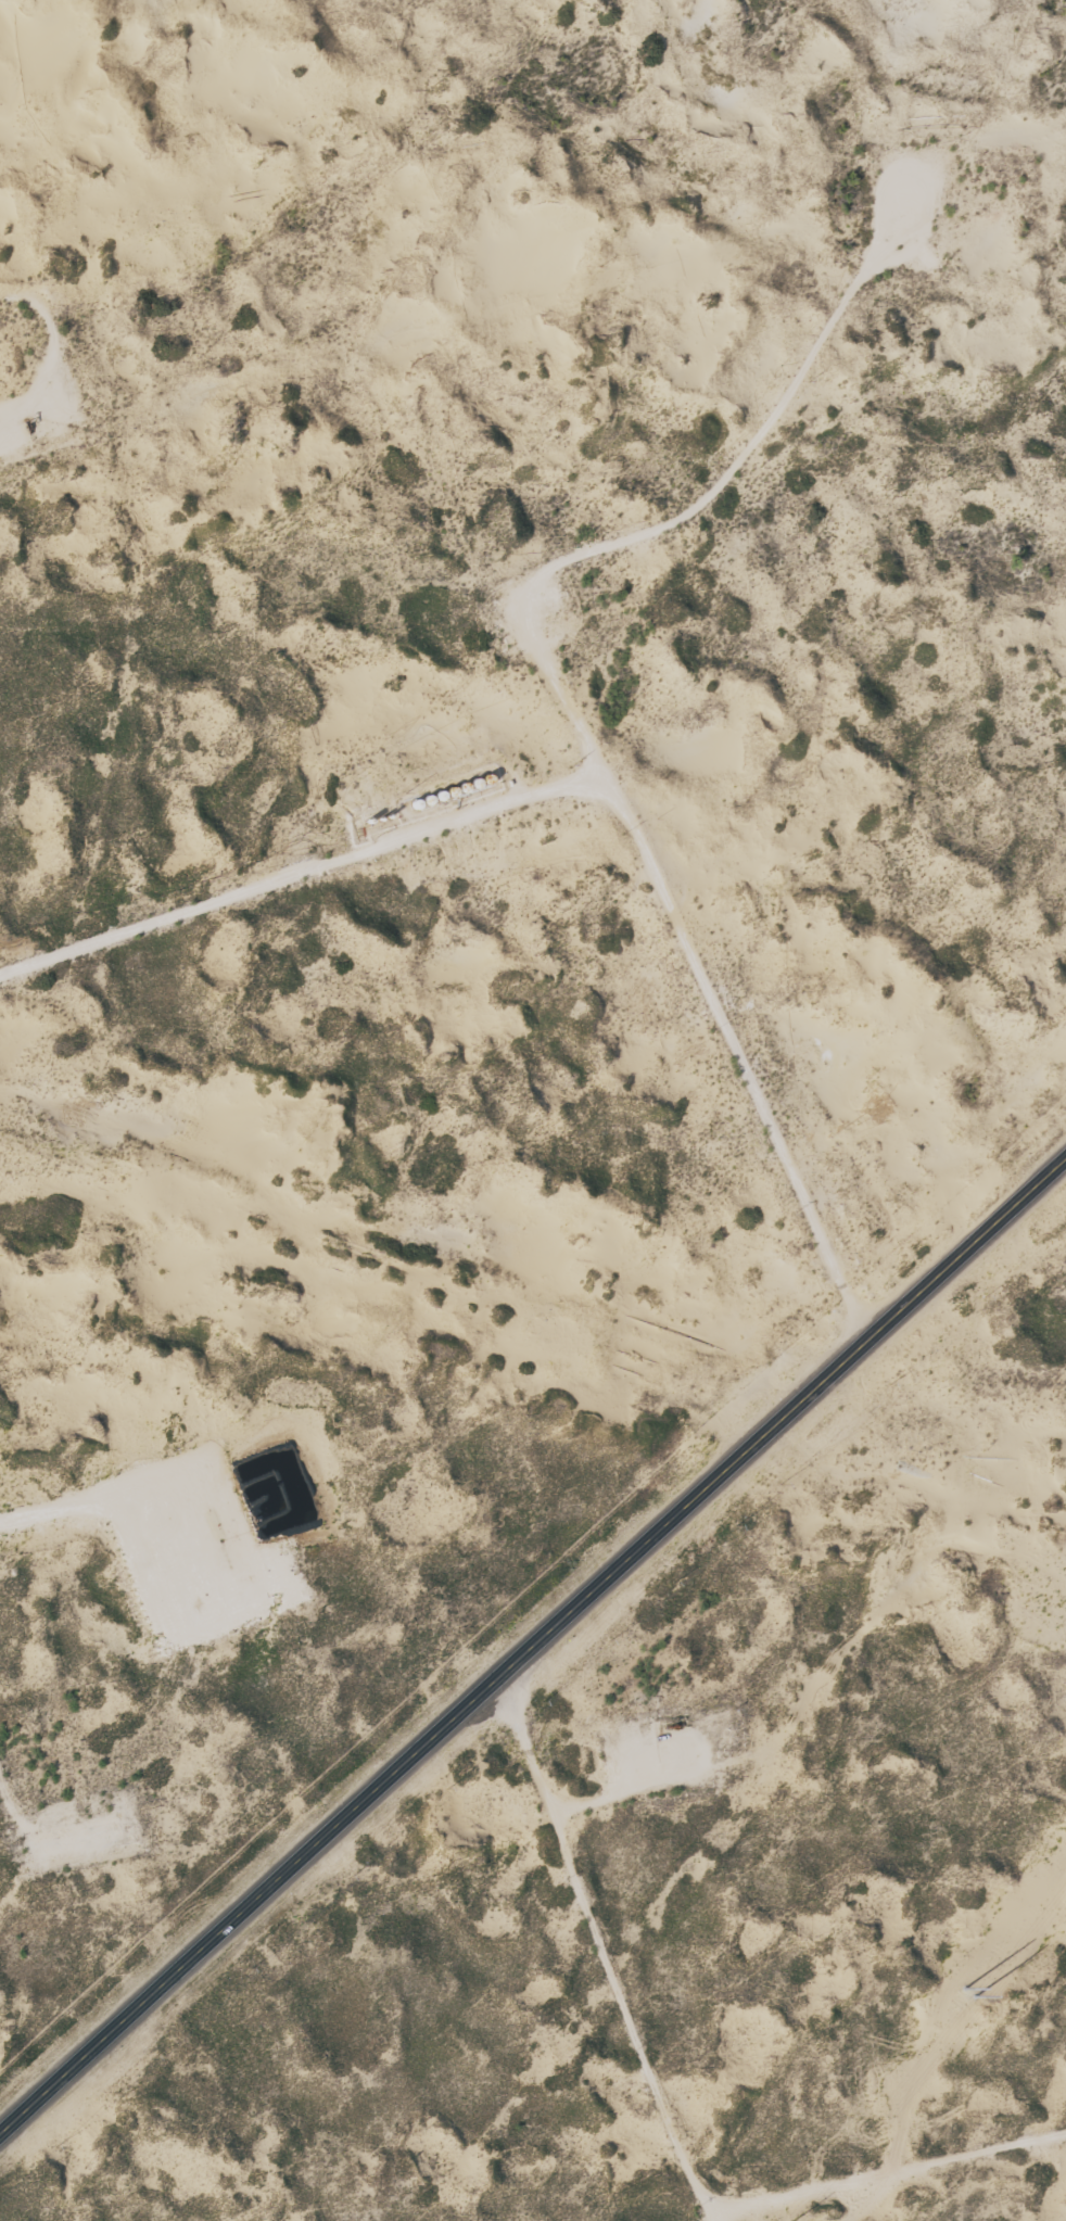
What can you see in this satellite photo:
road: (585, 718)
road: (532, 1650)
power tower: (983, 2008)

